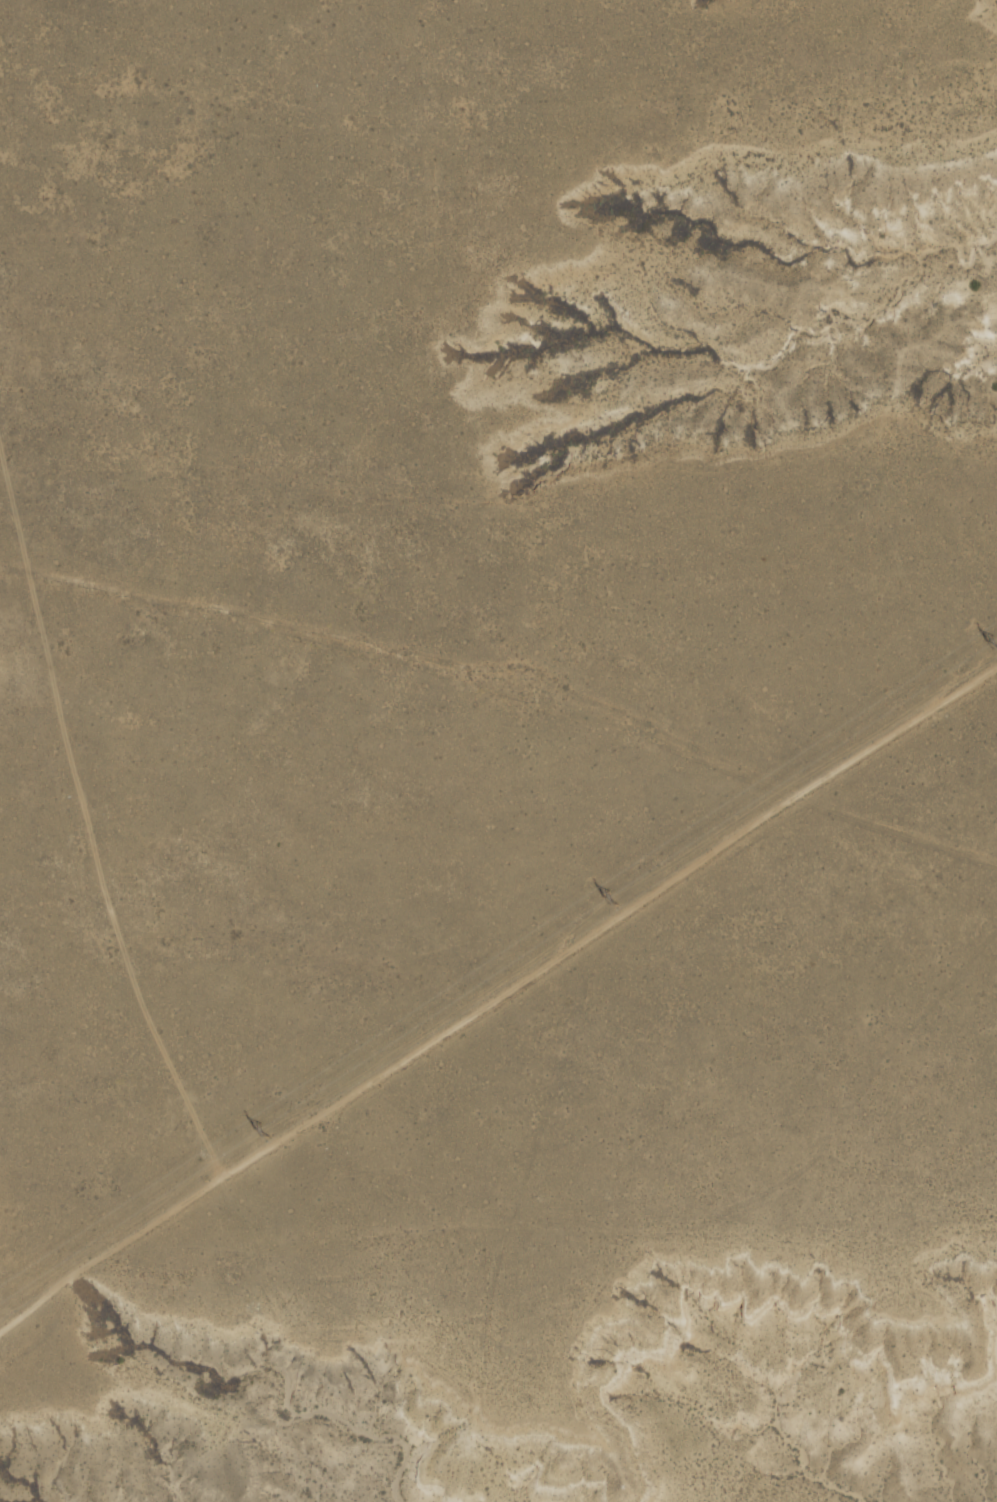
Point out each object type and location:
power tower: (618, 894)
power tower: (266, 1128)

